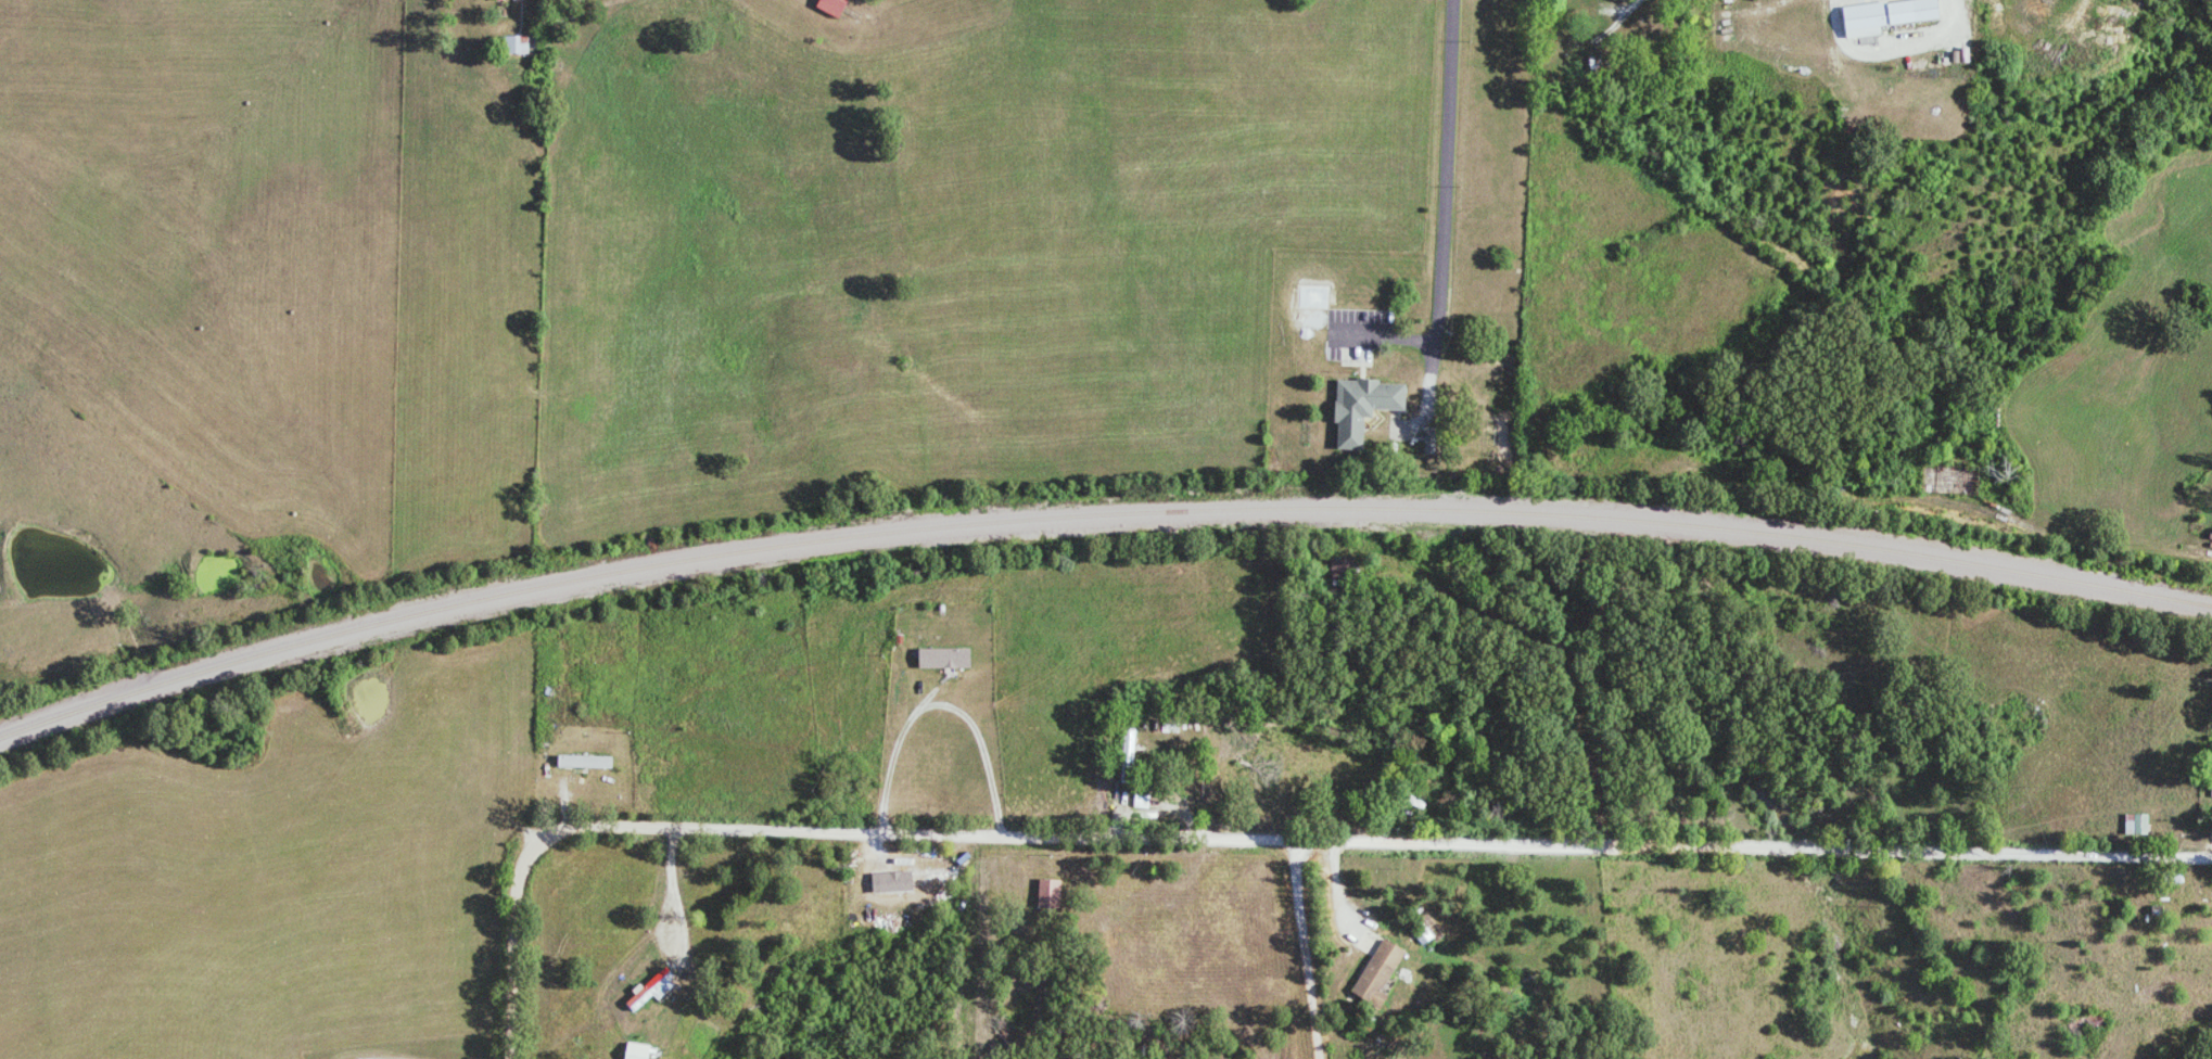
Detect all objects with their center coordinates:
building: (829, 7)
building: (1884, 16)
building: (513, 44)
road: (1437, 208)
building: (1360, 408)
building: (1428, 446)
railway: (1095, 513)
road: (1550, 647)
building: (942, 658)
building: (1127, 755)
building: (583, 762)
building: (1140, 801)
building: (2135, 824)
road: (1384, 838)
road: (1132, 889)
building: (1046, 893)
road: (512, 936)
road: (1308, 948)
building: (1376, 972)
building: (649, 988)
building: (638, 1051)

